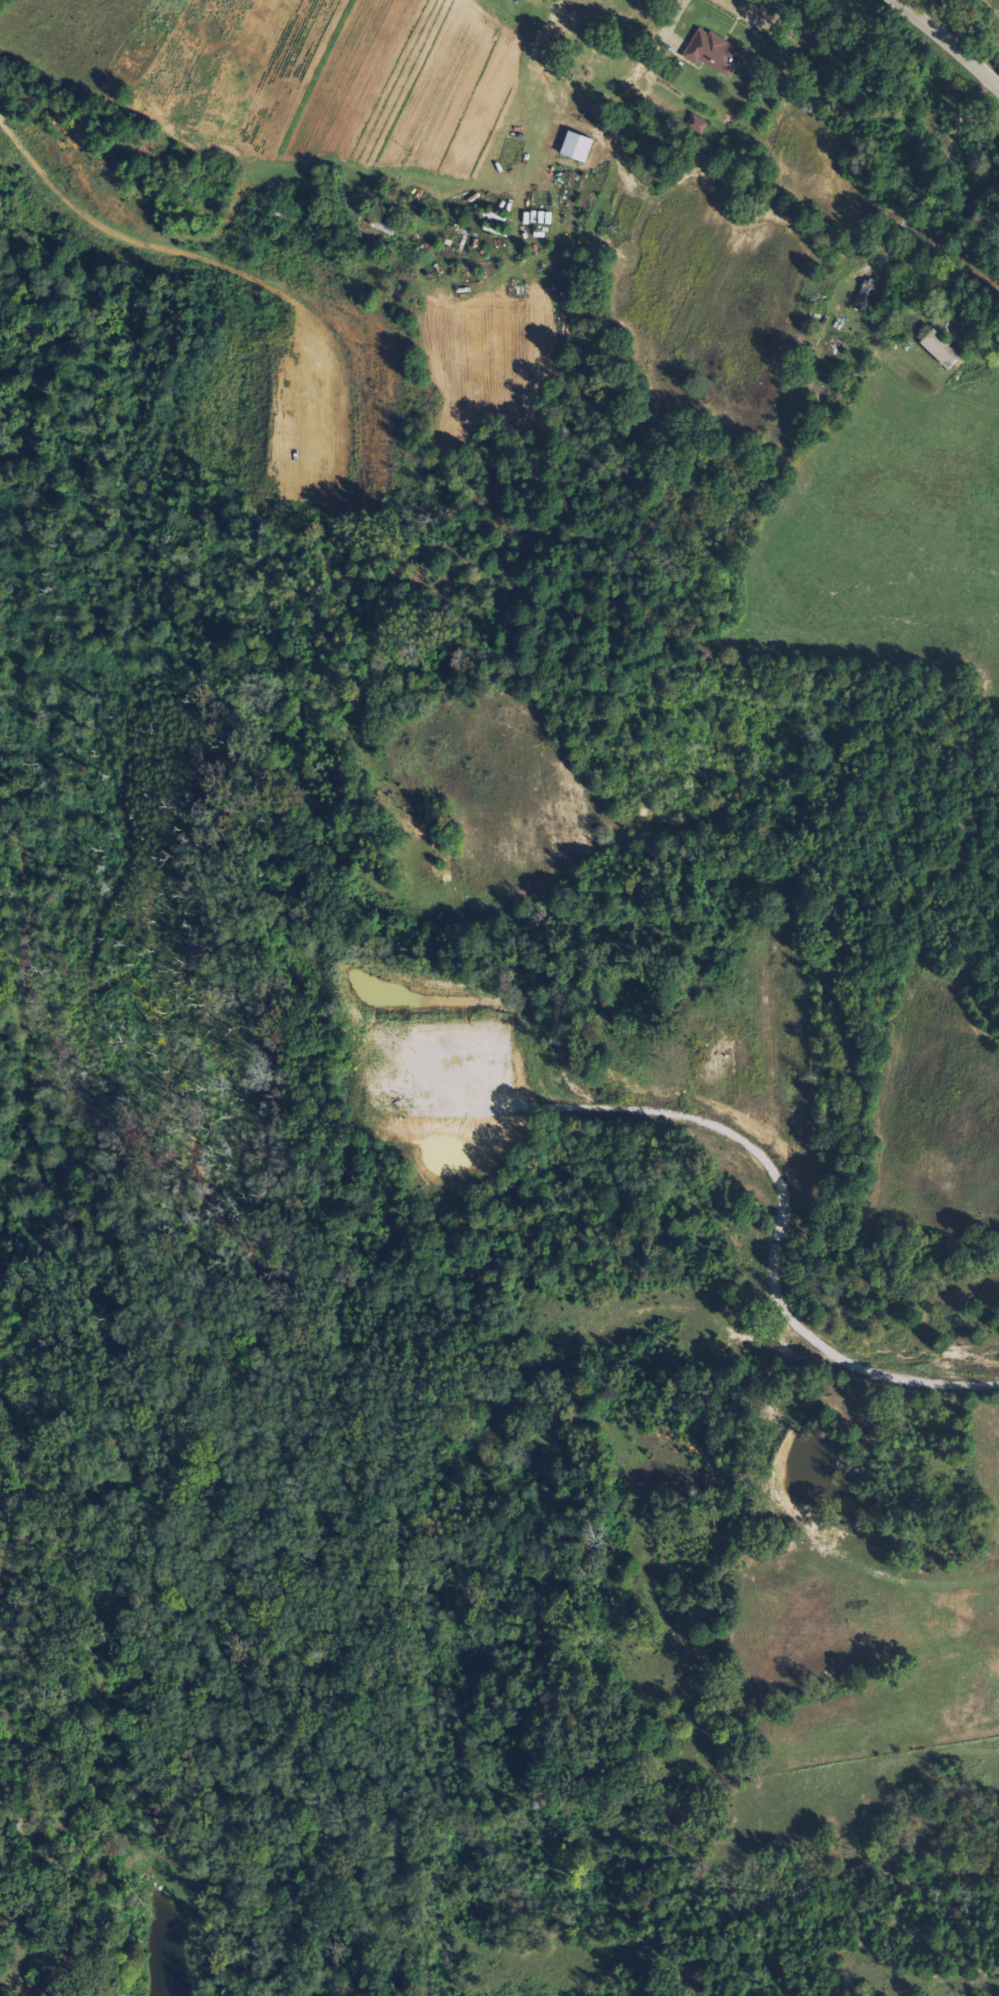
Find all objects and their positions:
road: (950, 40)
building: (715, 51)
building: (698, 126)
building: (579, 146)
building: (868, 295)
building: (943, 348)

